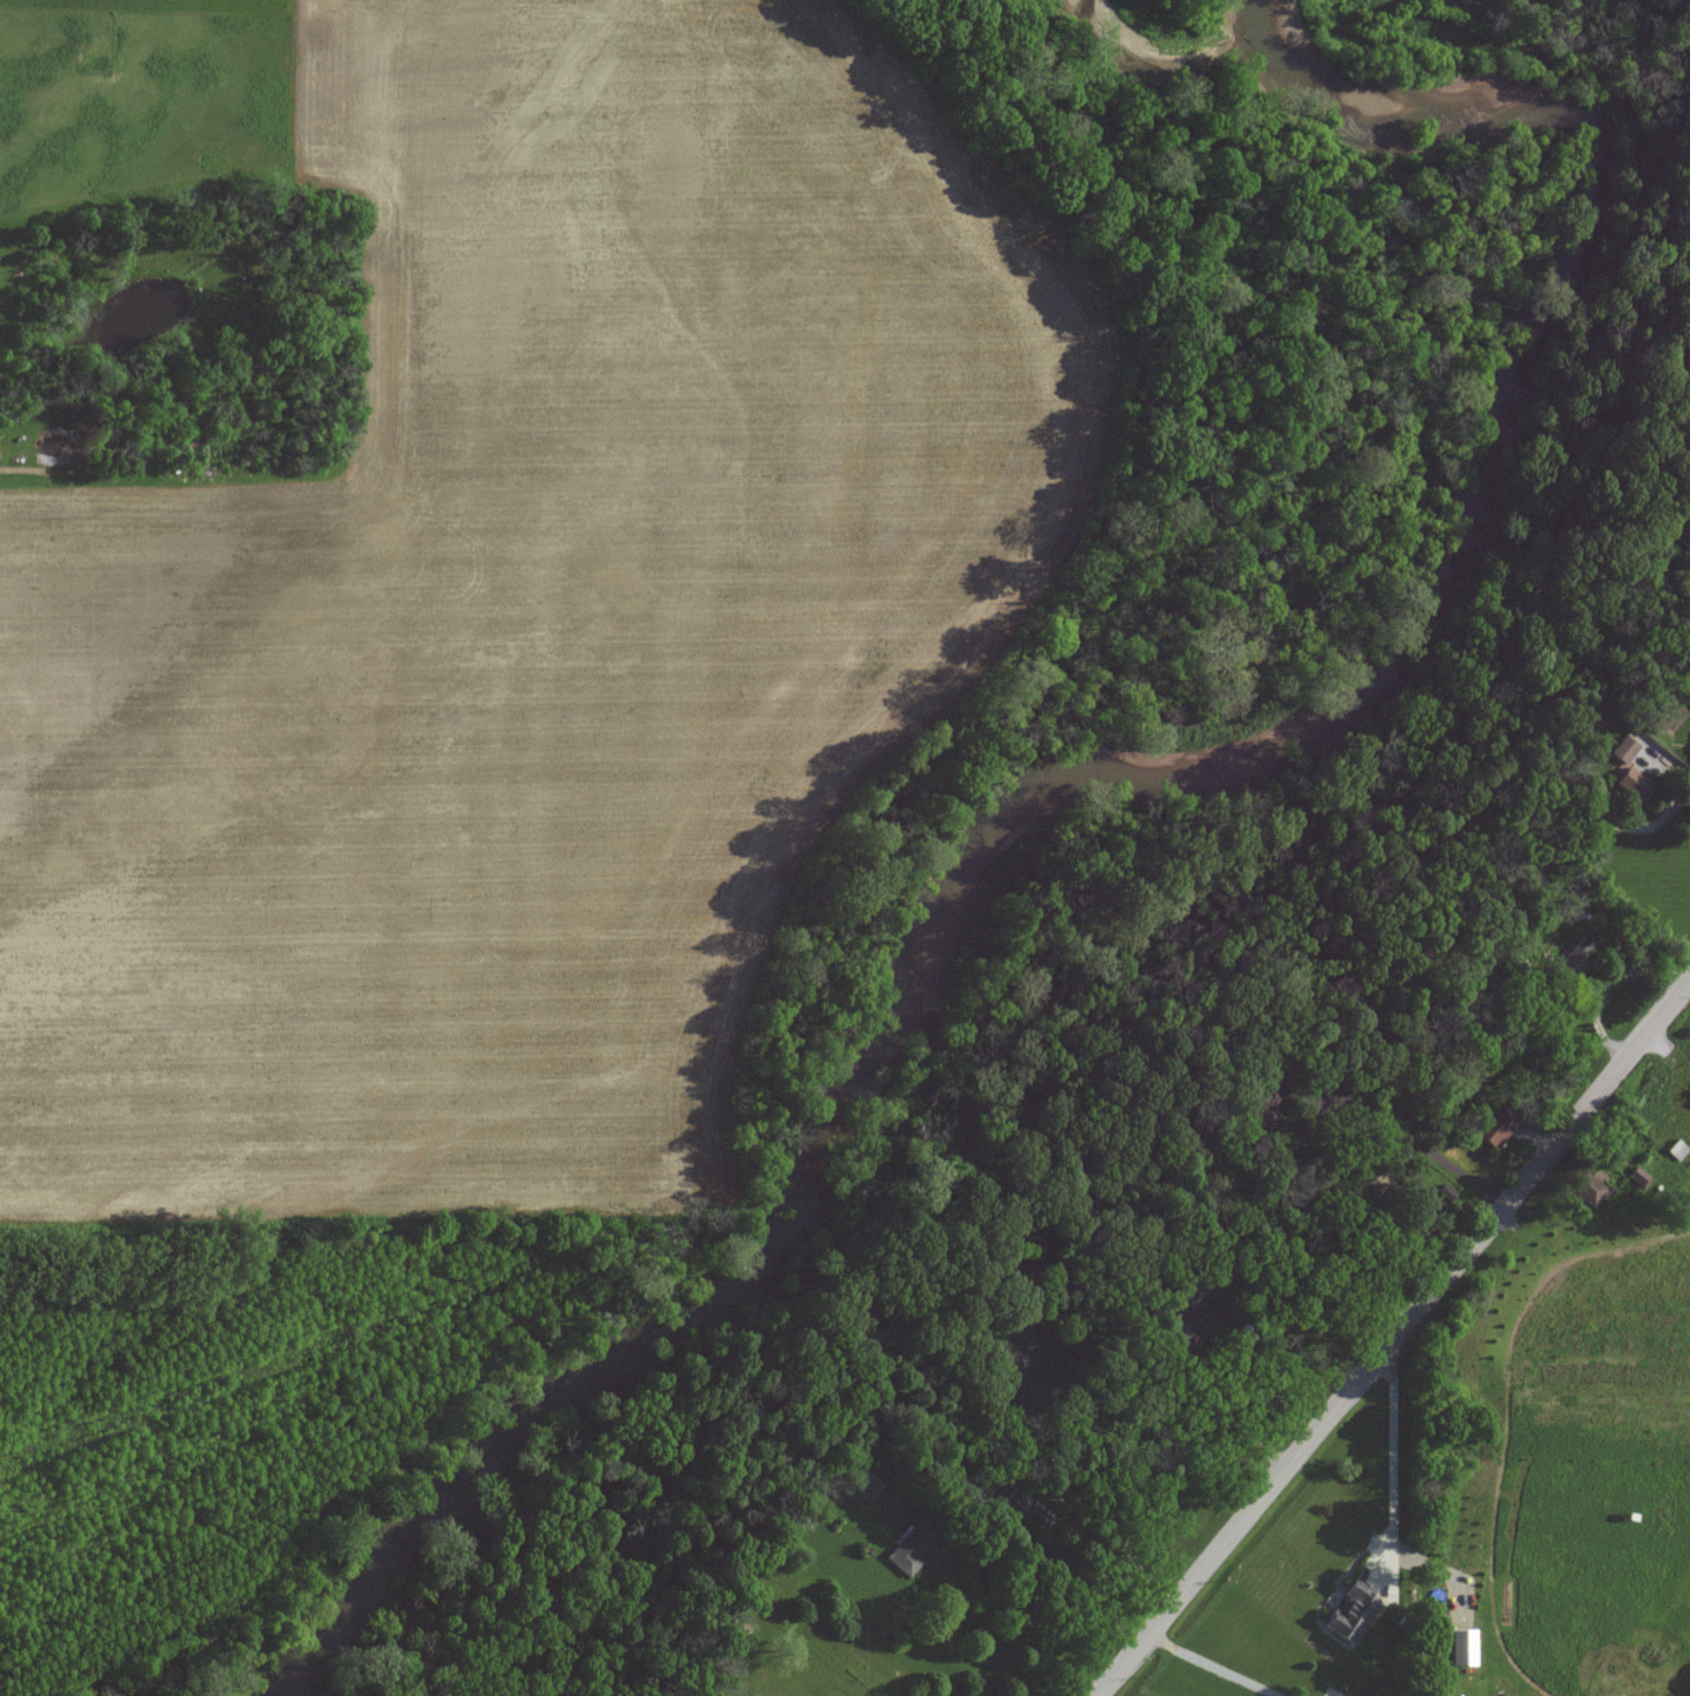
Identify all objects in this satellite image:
road: (2, 470)
building: (1688, 528)
building: (1622, 750)
road: (1683, 769)
river: (1119, 770)
building: (1631, 784)
building: (1572, 960)
road: (1604, 982)
building: (1689, 1094)
building: (1263, 1102)
road: (1374, 1115)
building: (1494, 1135)
building: (1586, 1188)
road: (1392, 1337)
road: (1229, 1413)
road: (1402, 1456)
road: (1071, 1504)
building: (908, 1549)
road: (1106, 1582)
road: (1019, 1610)
building: (1462, 1648)
road: (1211, 1666)

